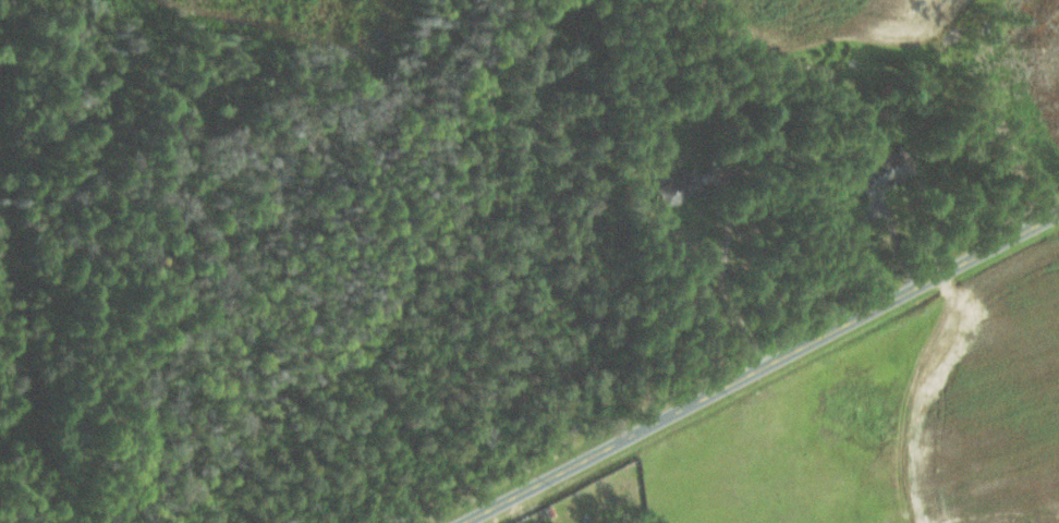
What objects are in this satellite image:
building: (884, 170)
building: (675, 188)
road: (758, 365)

